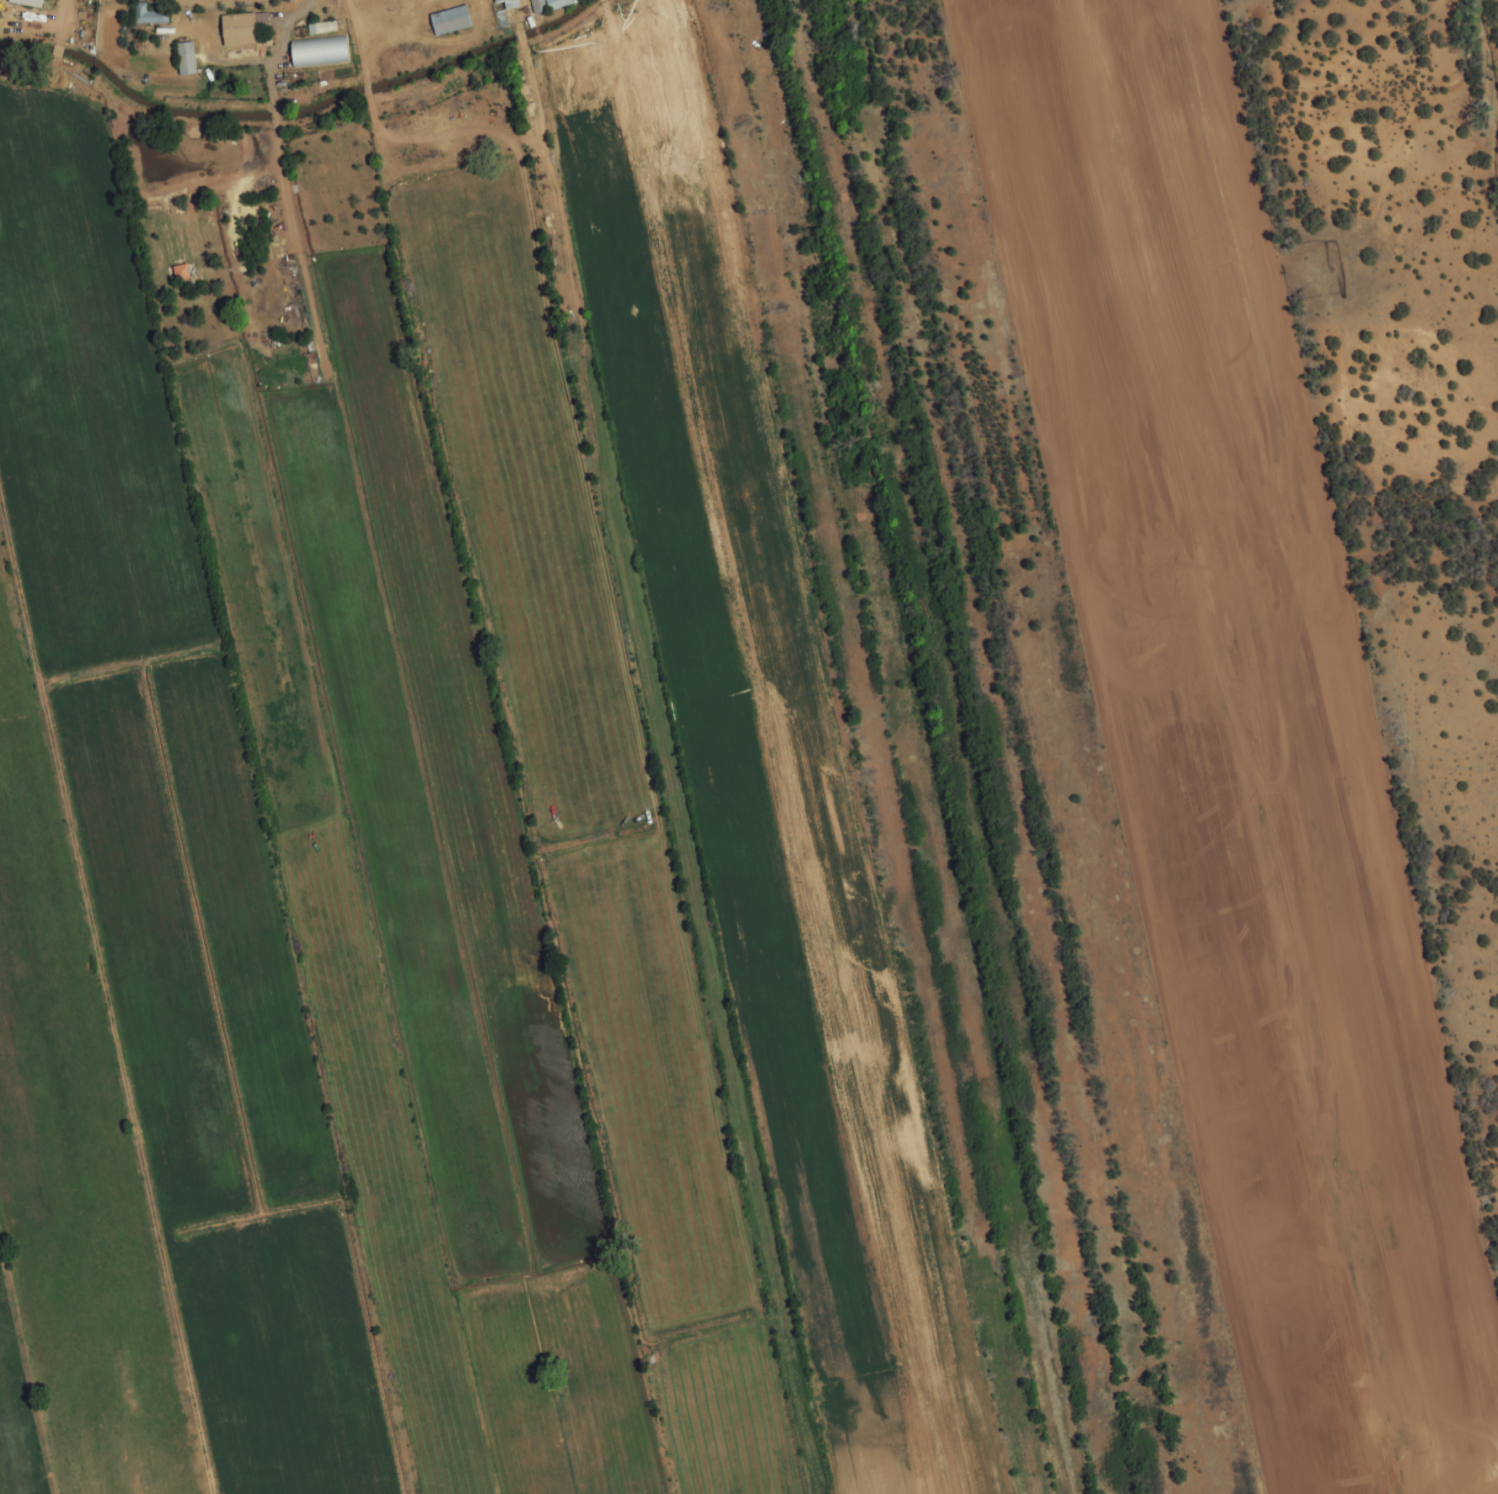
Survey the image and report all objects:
building: (30, 3)
building: (542, 5)
building: (141, 16)
building: (443, 21)
building: (235, 29)
building: (315, 29)
building: (312, 53)
building: (179, 59)
building: (174, 272)
building: (283, 305)

